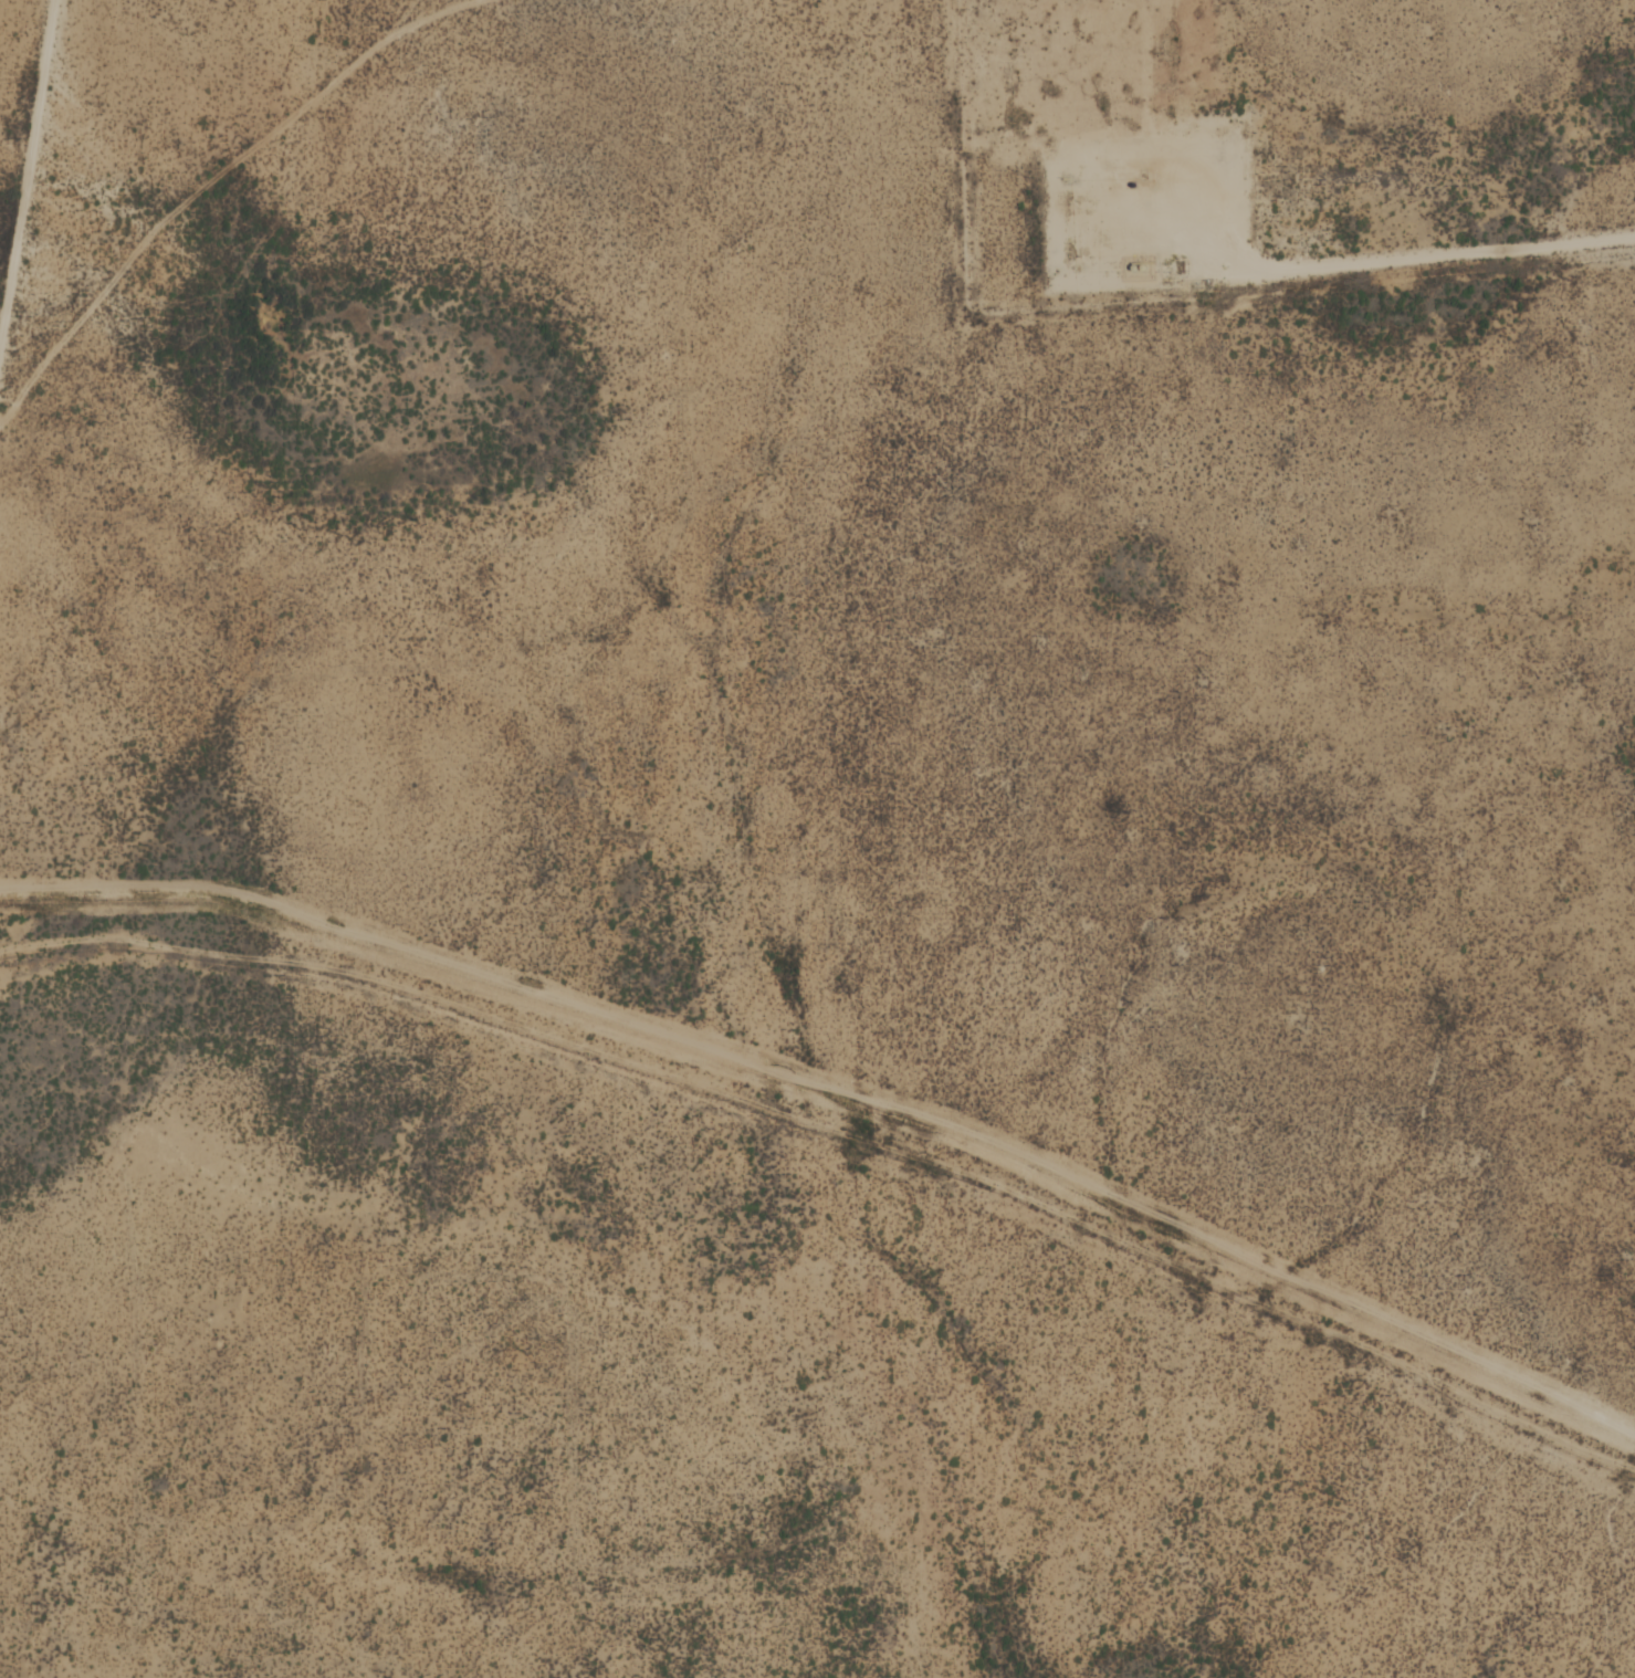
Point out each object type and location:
road: (23, 172)

